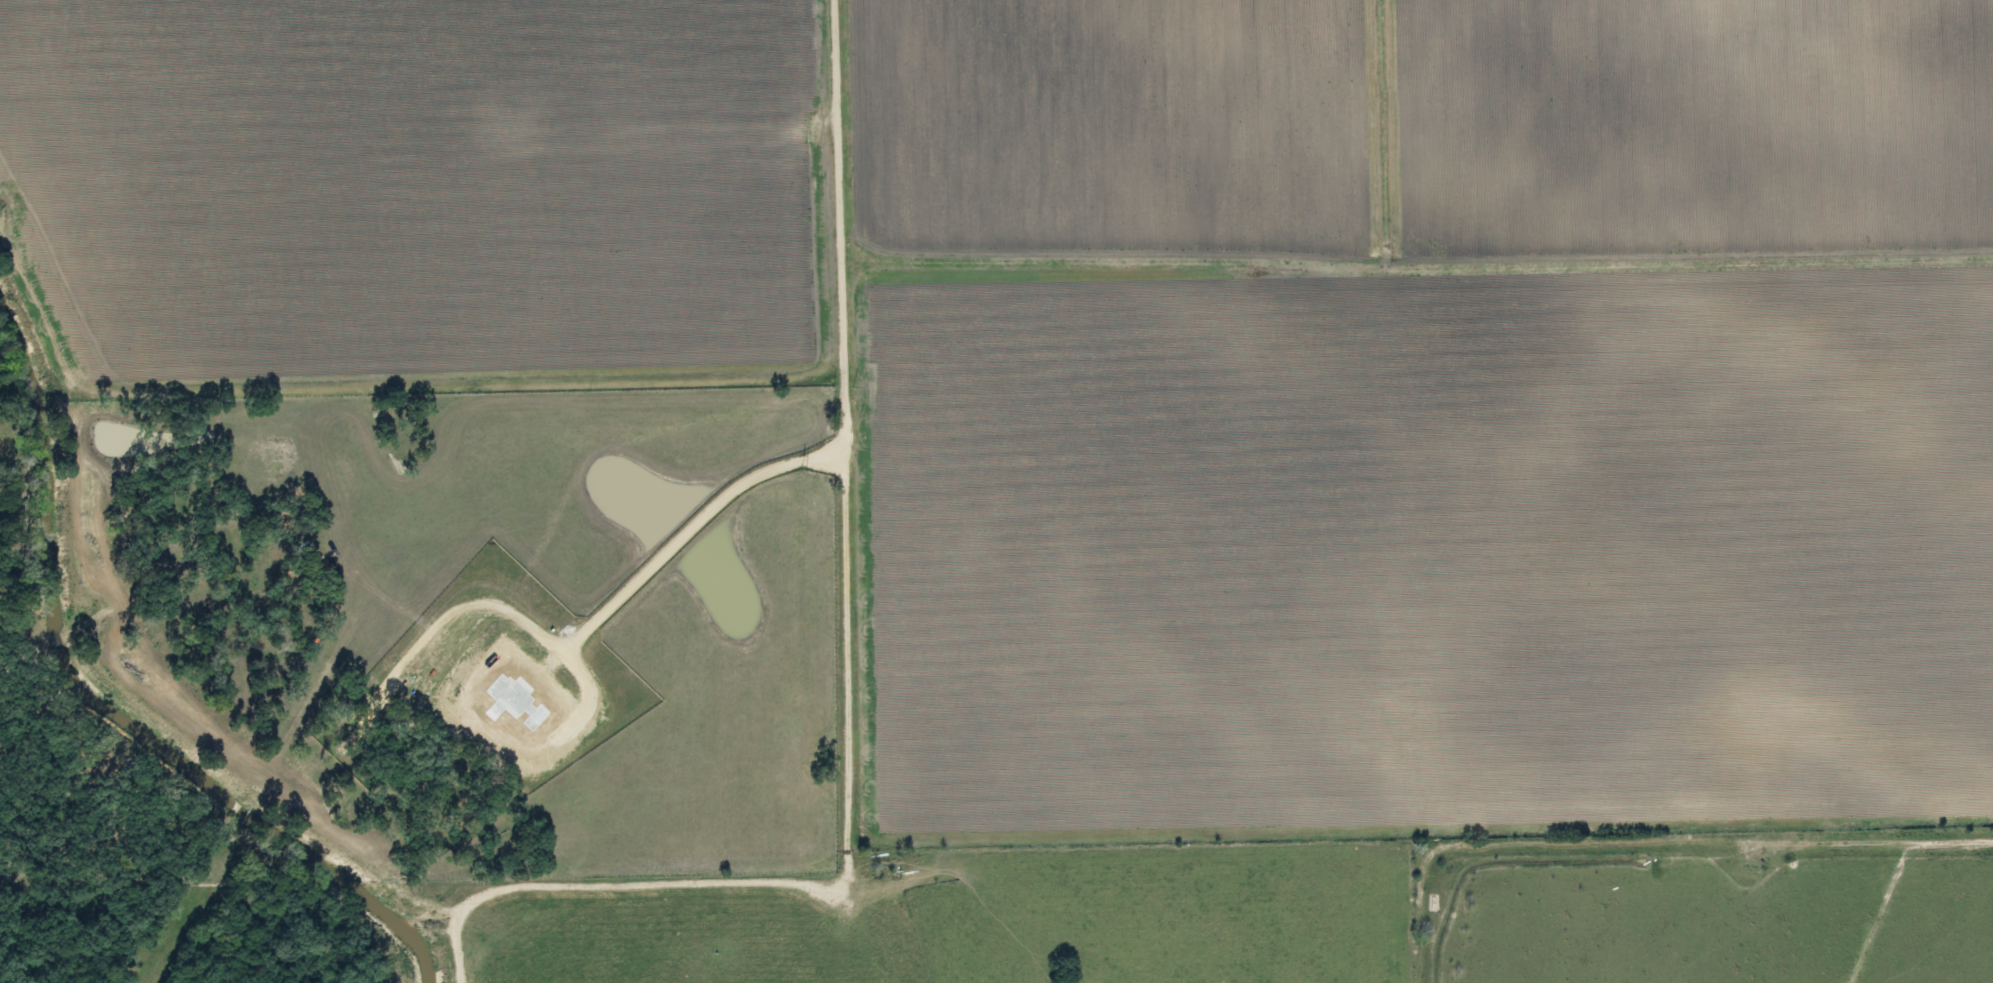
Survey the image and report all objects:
road: (838, 675)

